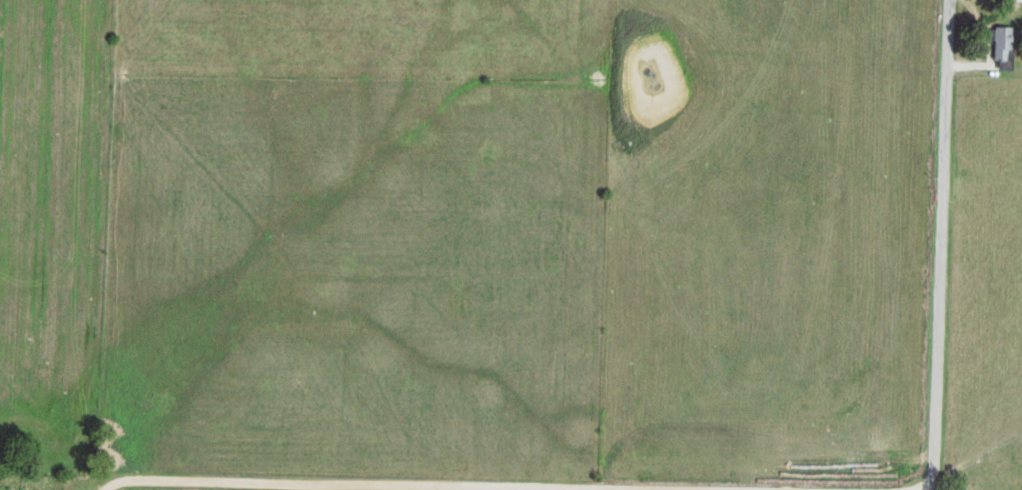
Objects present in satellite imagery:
building: (998, 43)
road: (943, 245)
road: (521, 487)

